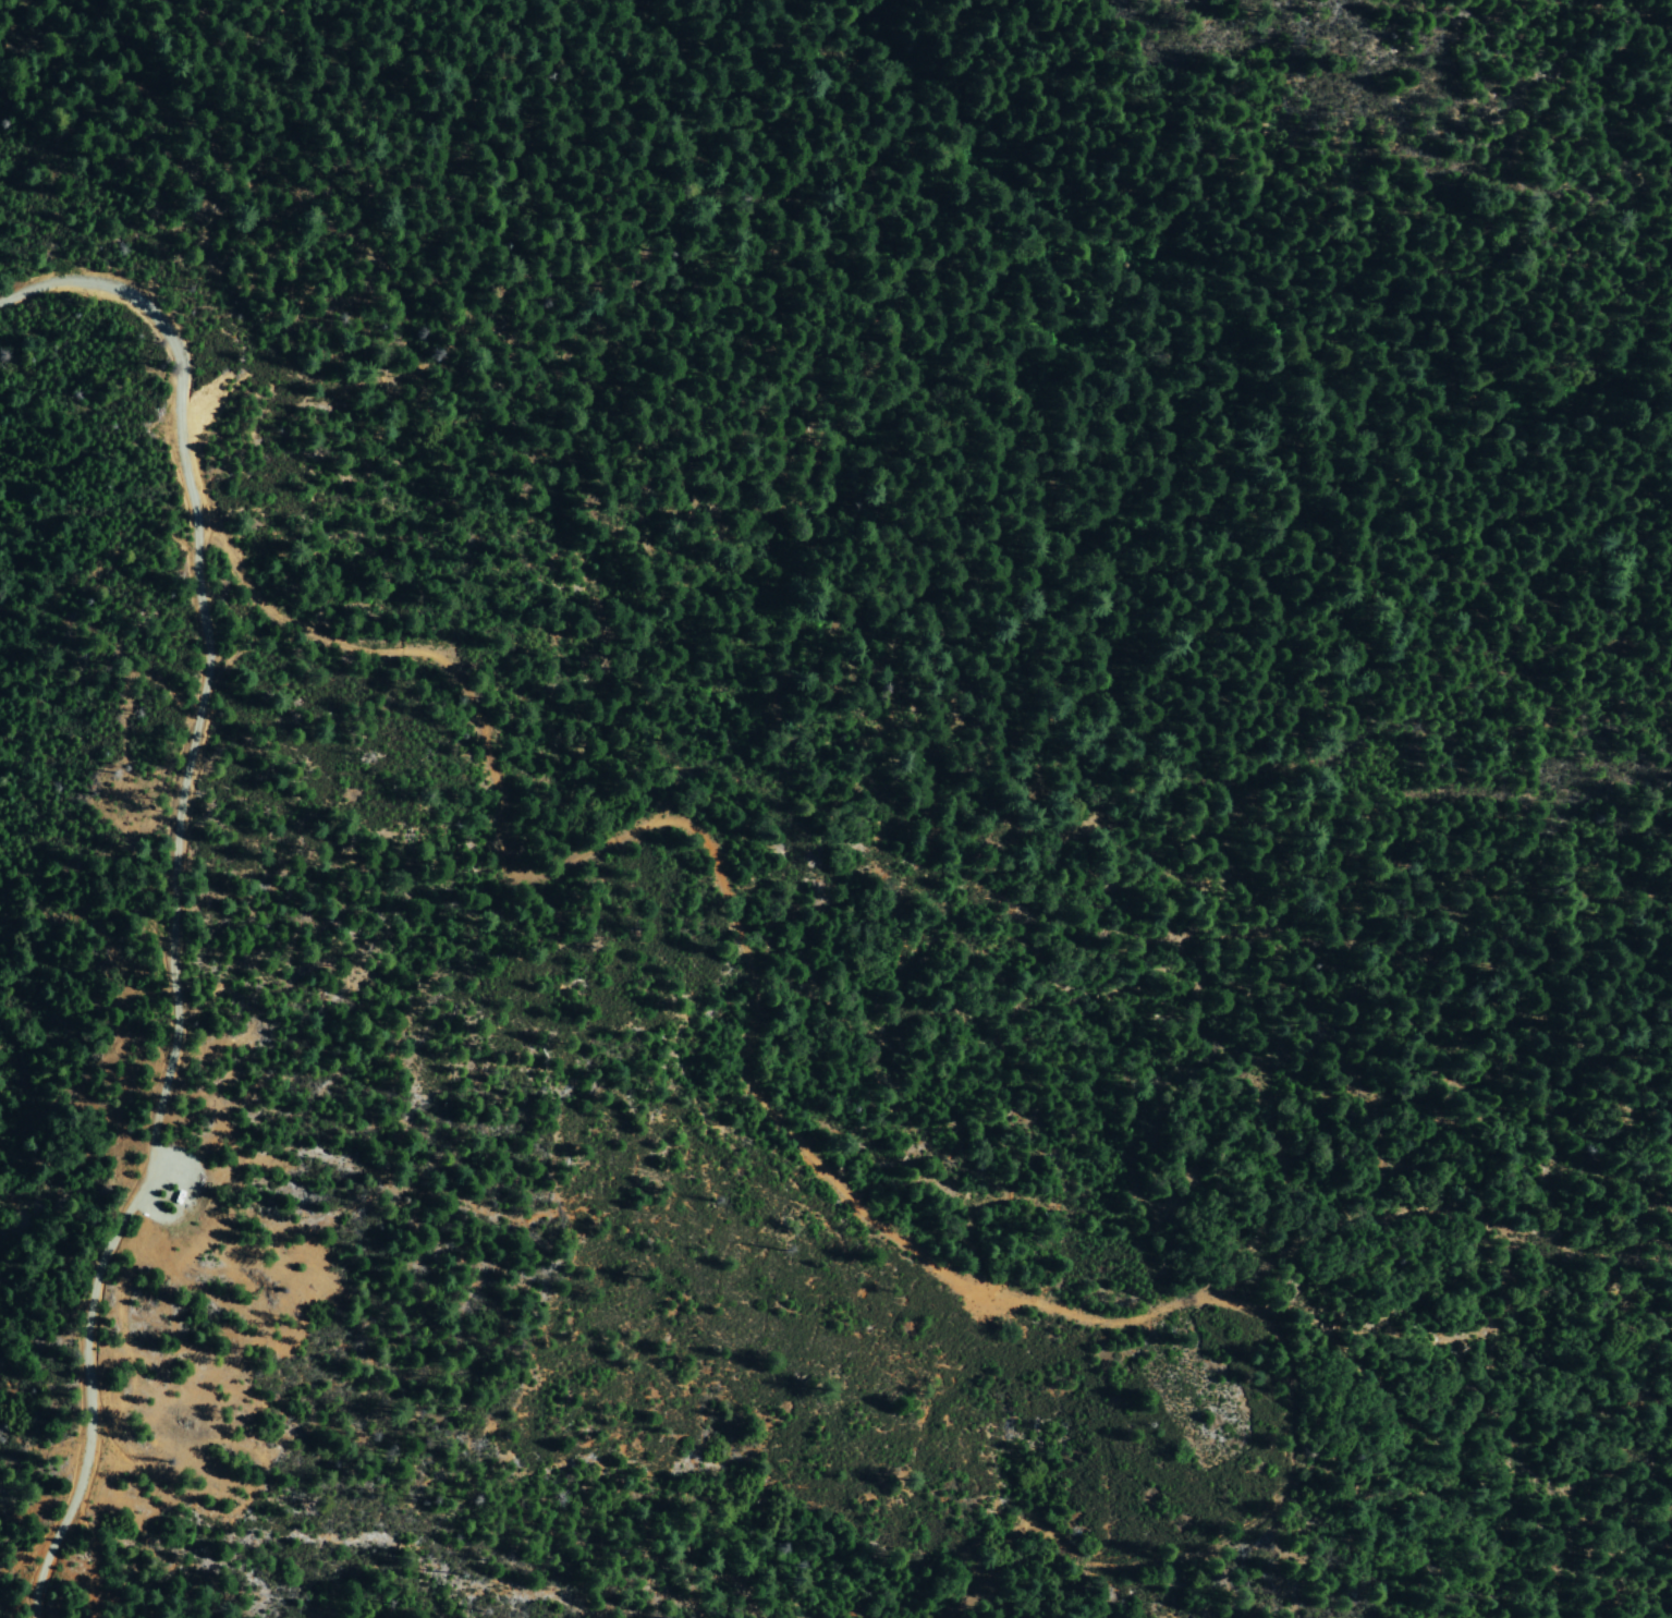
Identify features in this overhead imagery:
park: (1125, 381)
road: (716, 879)
road: (169, 890)

